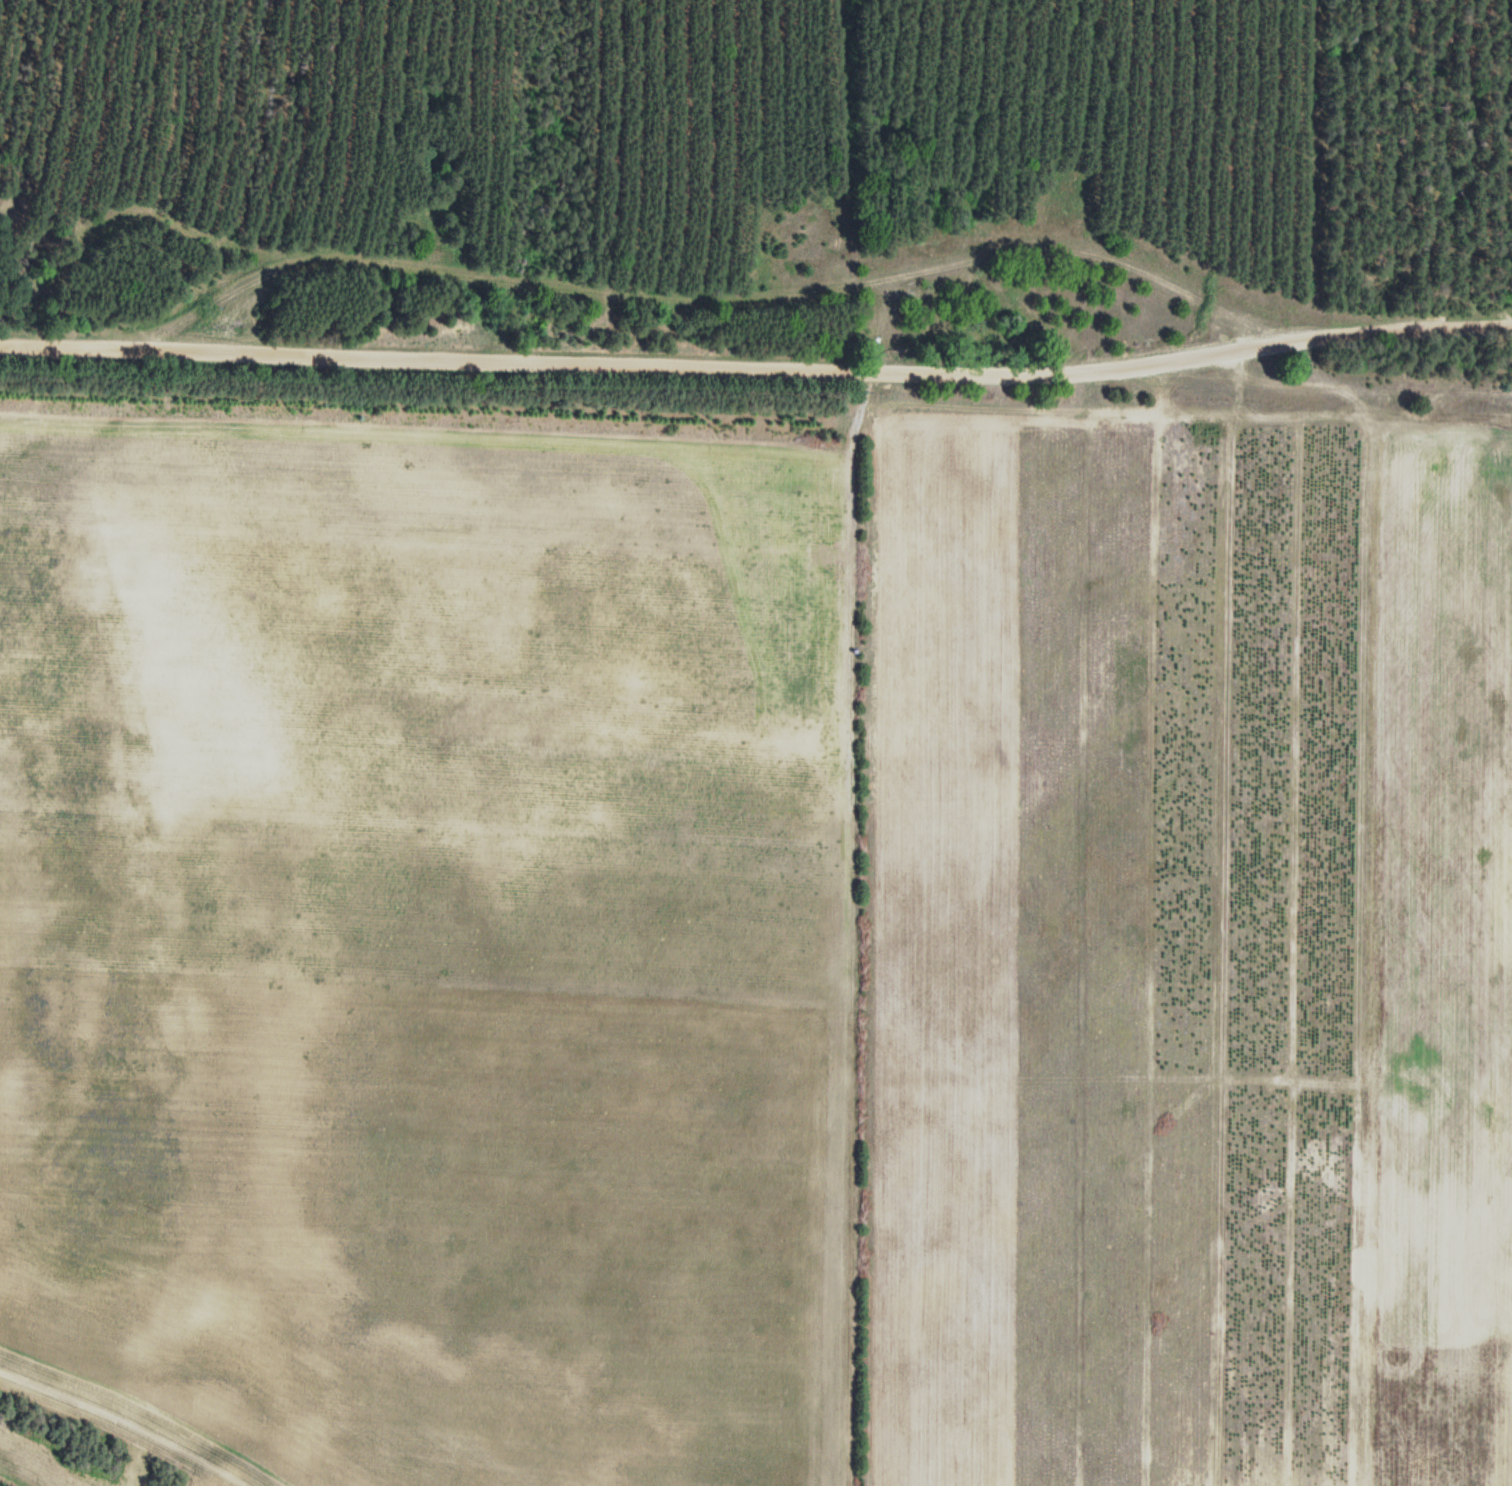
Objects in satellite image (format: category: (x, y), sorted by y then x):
road: (756, 300)
road: (125, 1422)

